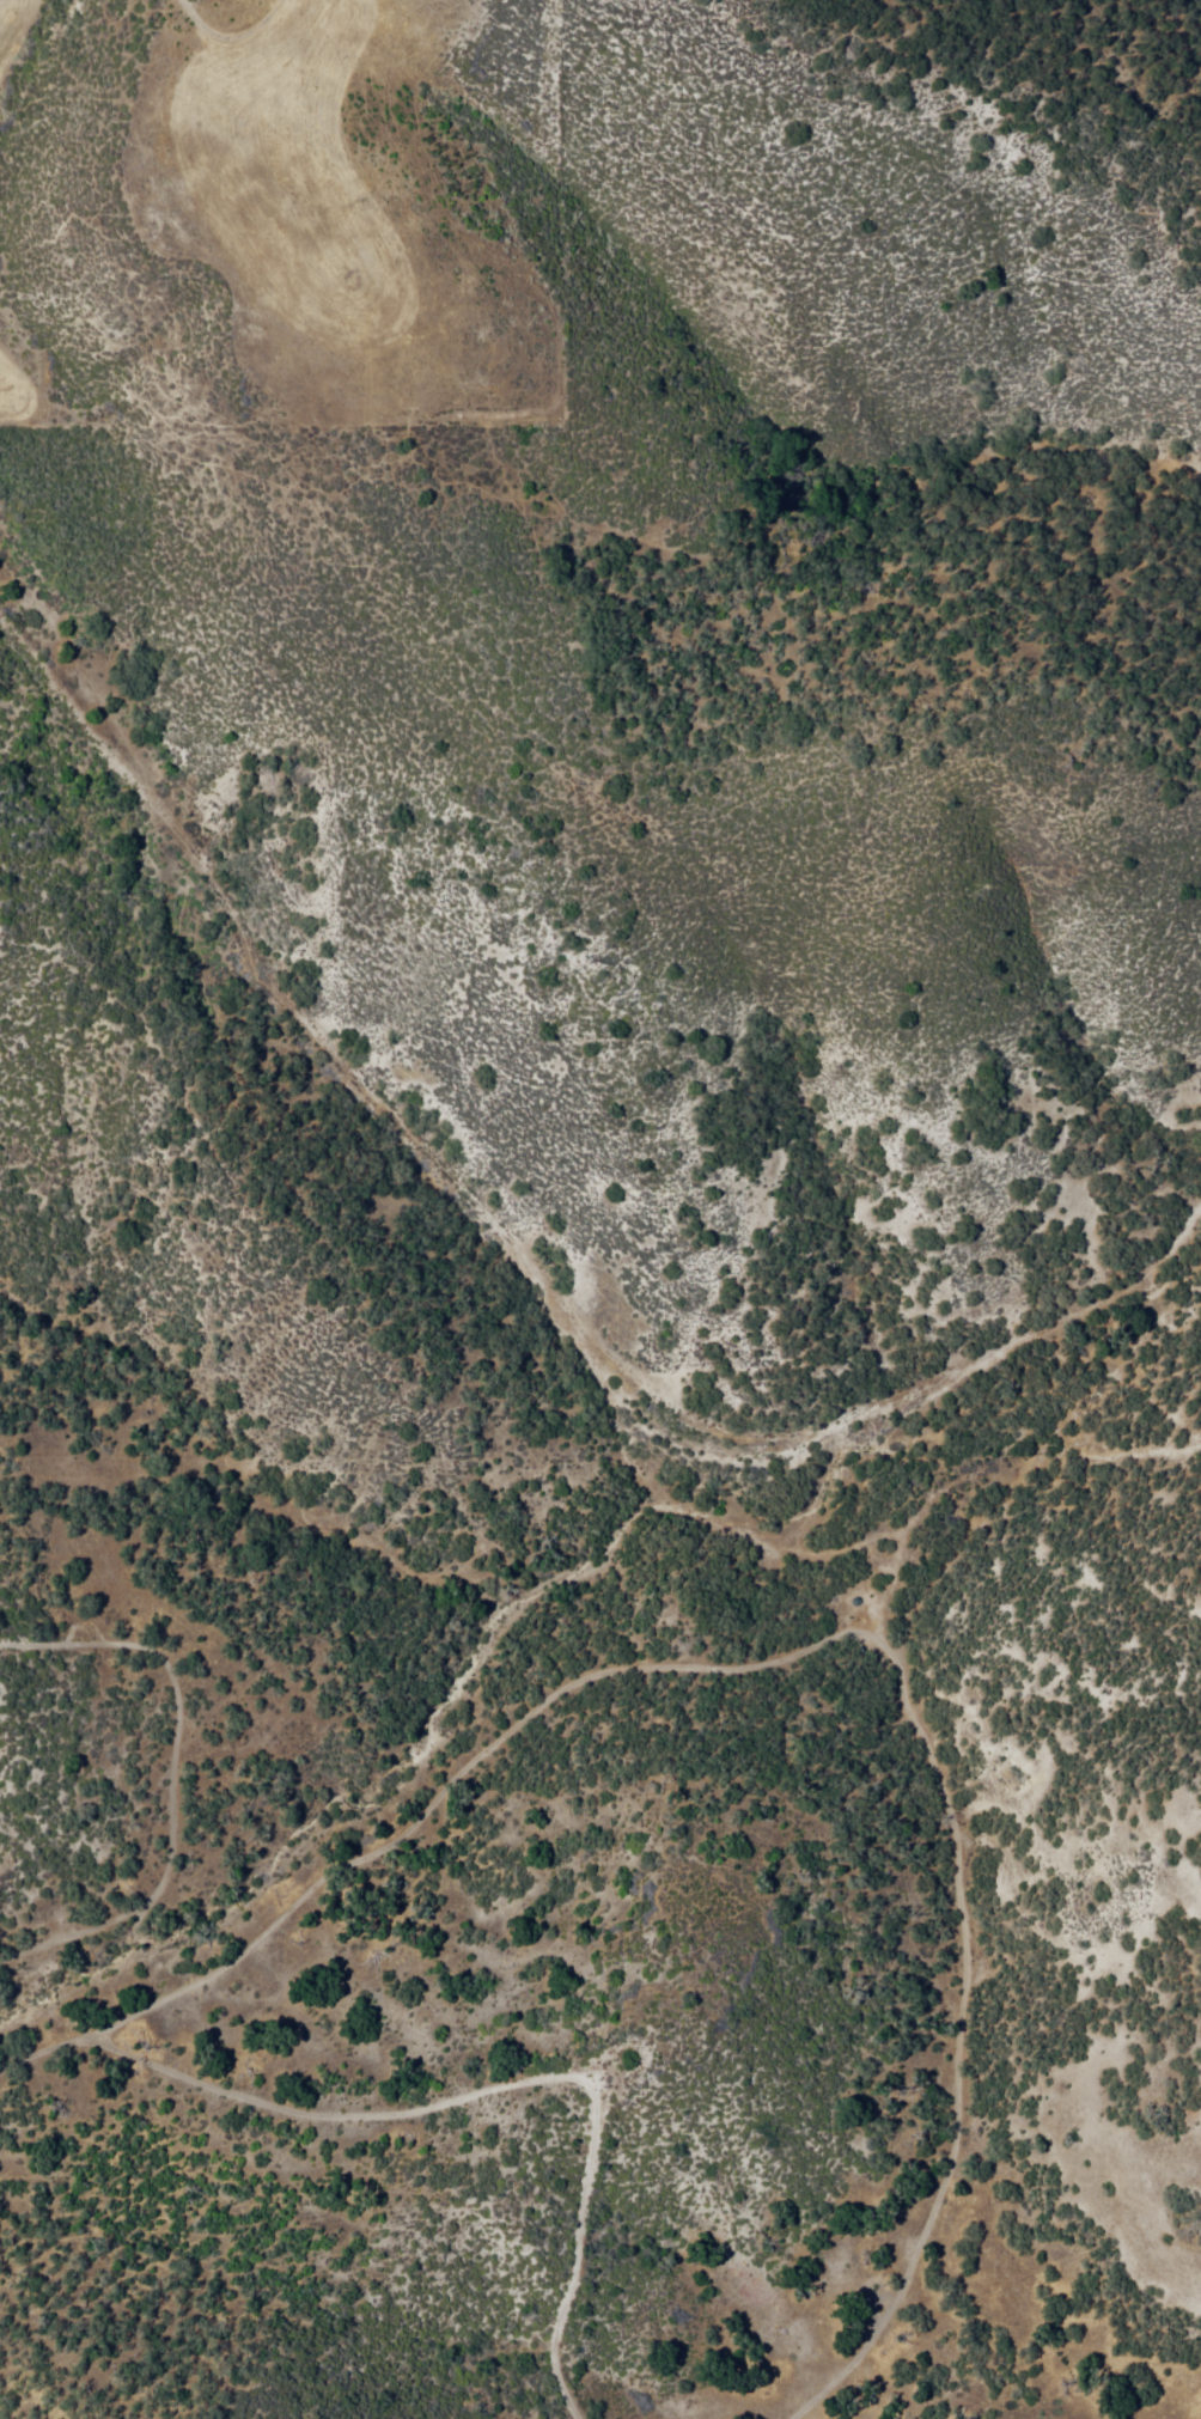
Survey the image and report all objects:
road: (487, 1652)
road: (939, 1775)
road: (189, 2074)
road: (842, 2376)

